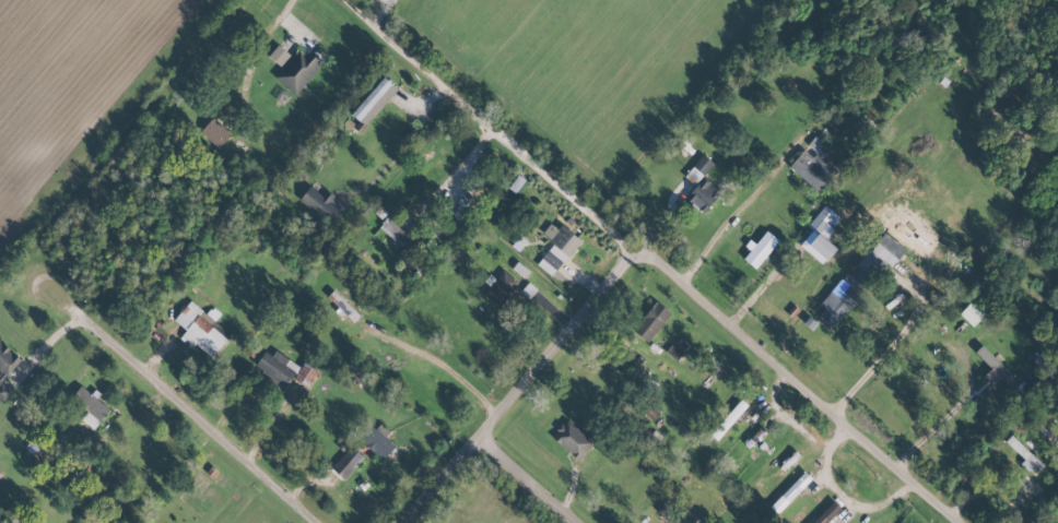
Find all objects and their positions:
road: (289, 23)
building: (278, 55)
building: (297, 70)
building: (373, 102)
building: (213, 134)
road: (465, 158)
building: (702, 164)
building: (811, 165)
building: (703, 193)
building: (321, 202)
road: (729, 223)
building: (820, 234)
building: (560, 237)
building: (760, 249)
road: (651, 262)
building: (860, 274)
building: (499, 287)
building: (342, 306)
building: (971, 312)
building: (650, 321)
building: (200, 330)
road: (40, 346)
road: (886, 347)
building: (7, 359)
building: (995, 366)
road: (448, 368)
building: (275, 369)
building: (305, 375)
road: (519, 388)
building: (3, 391)
road: (177, 402)
building: (87, 406)
road: (786, 416)
building: (572, 439)
building: (377, 440)
building: (346, 462)
road: (525, 480)
road: (840, 494)
building: (826, 513)
building: (668, 514)

